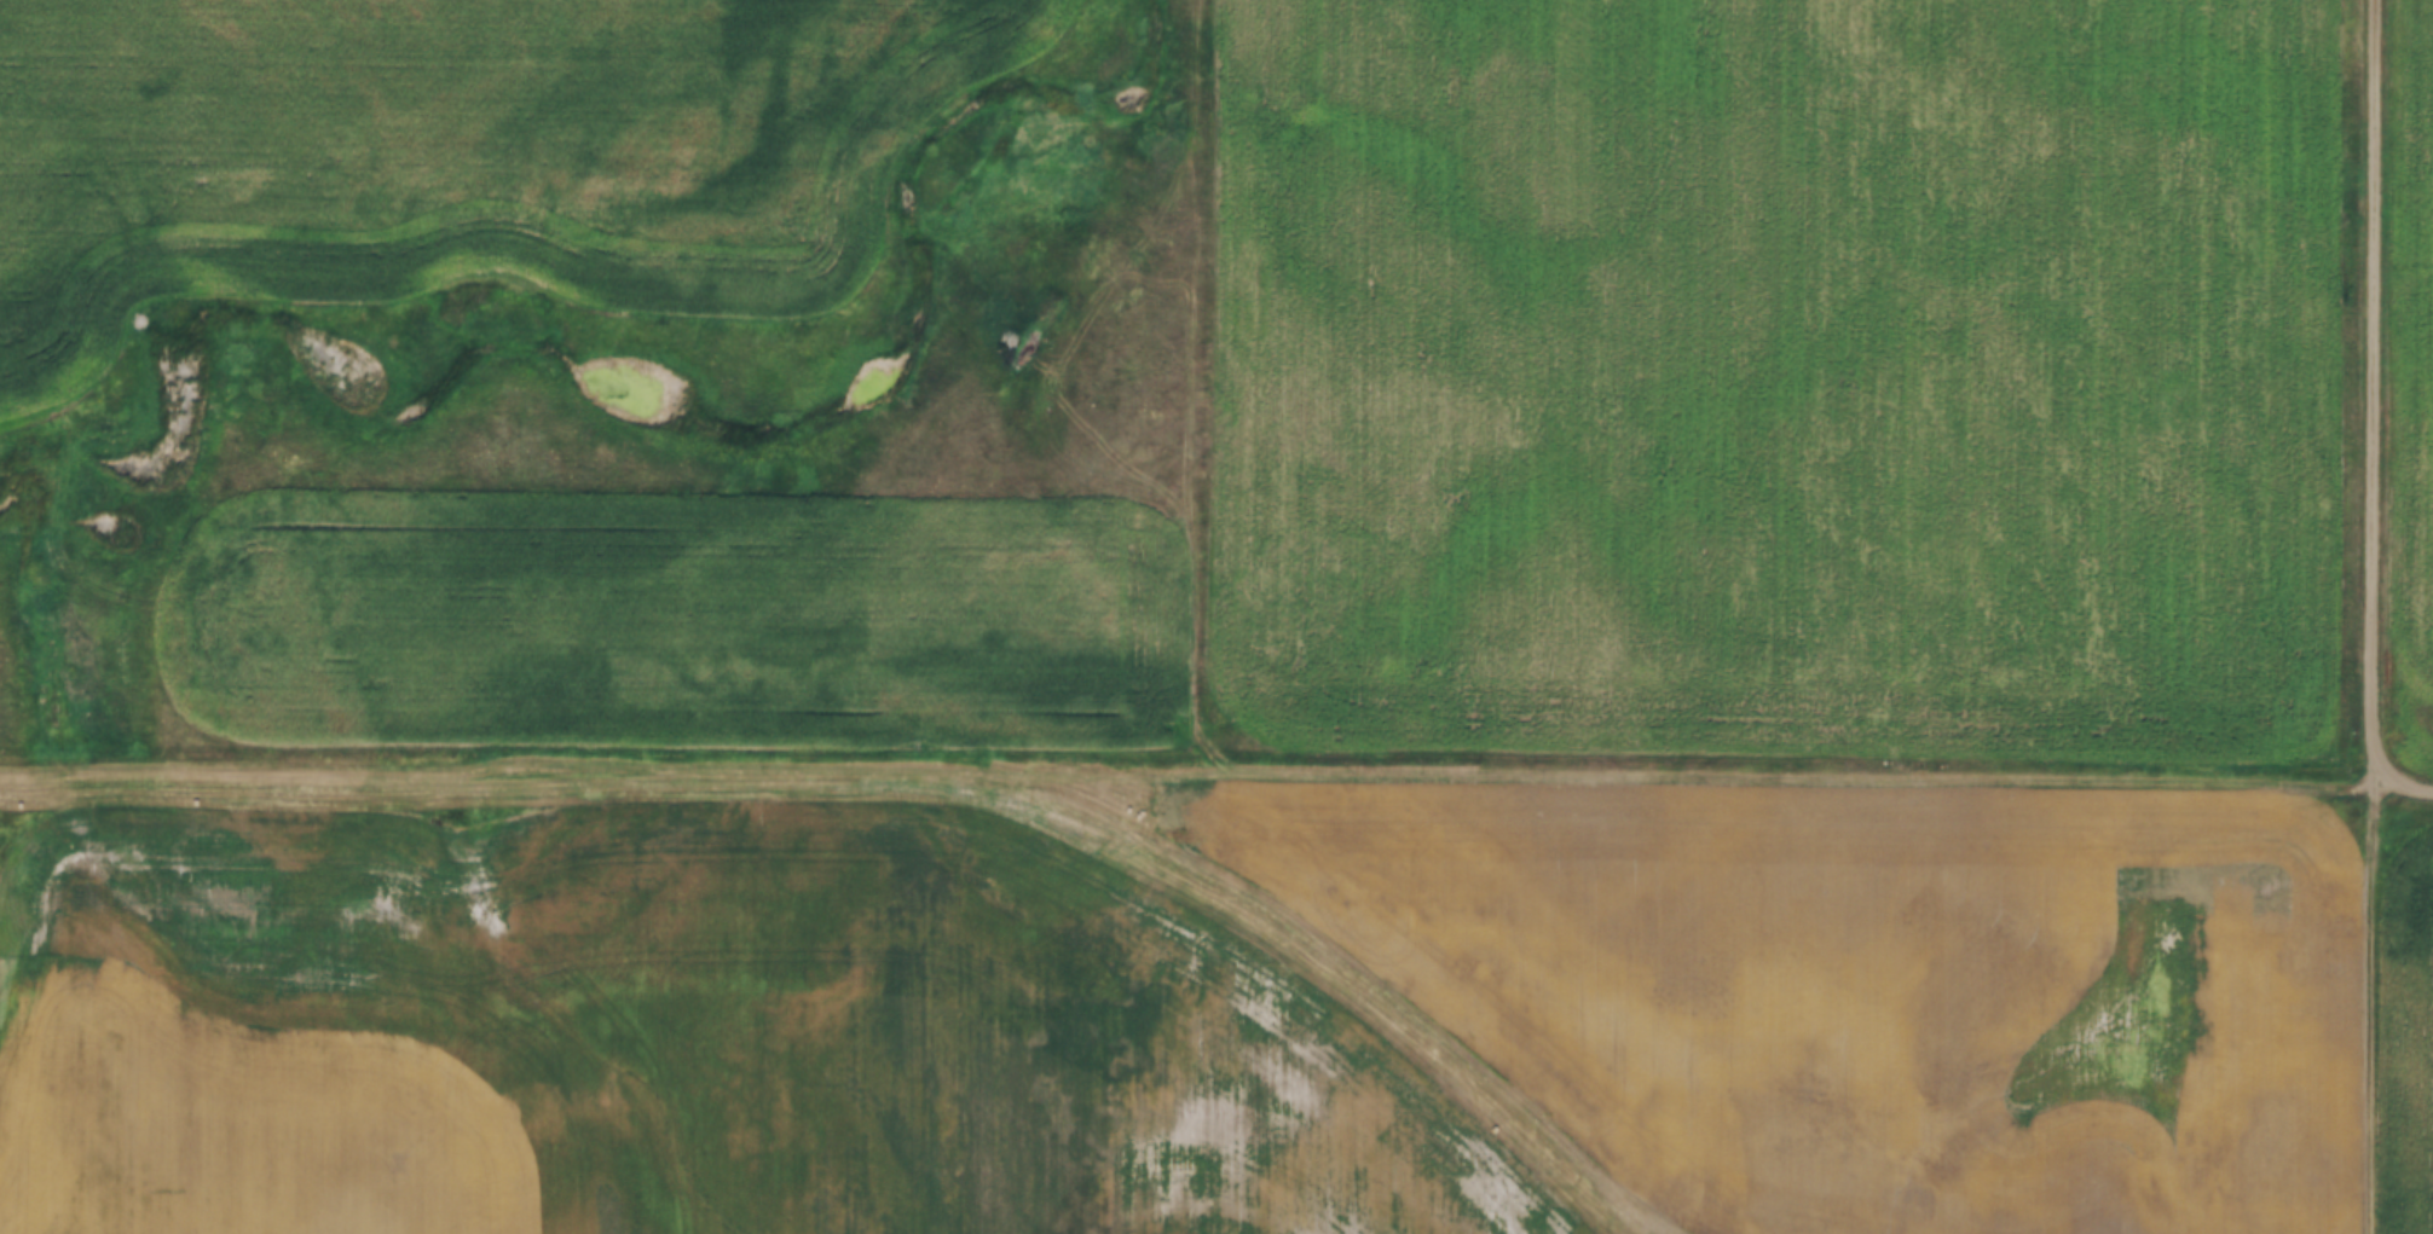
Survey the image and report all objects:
road: (2376, 395)
road: (1187, 763)
road: (2404, 789)
road: (2374, 1012)

